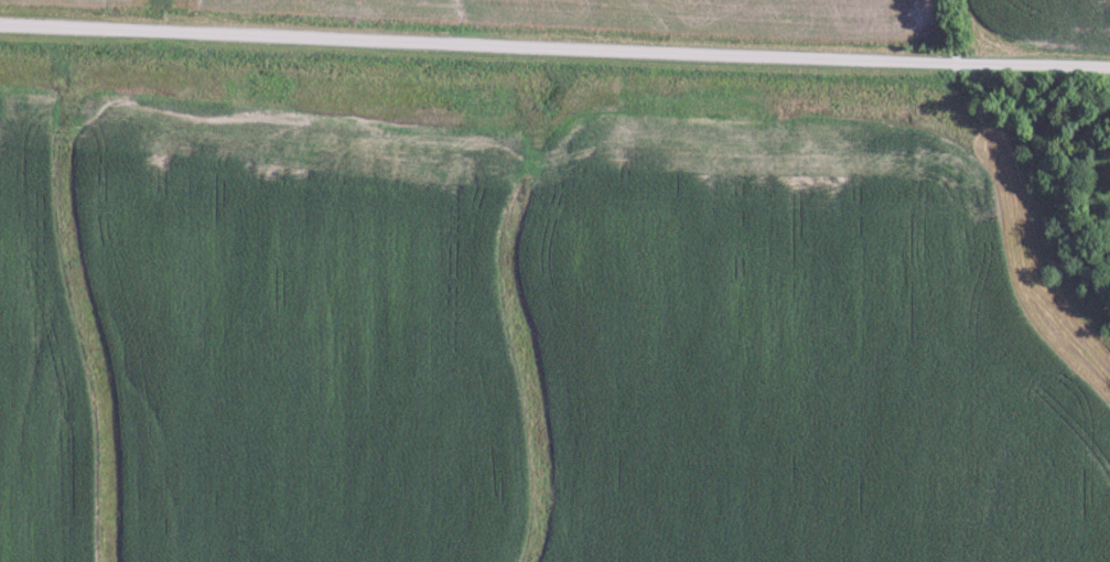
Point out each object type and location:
road: (554, 46)

